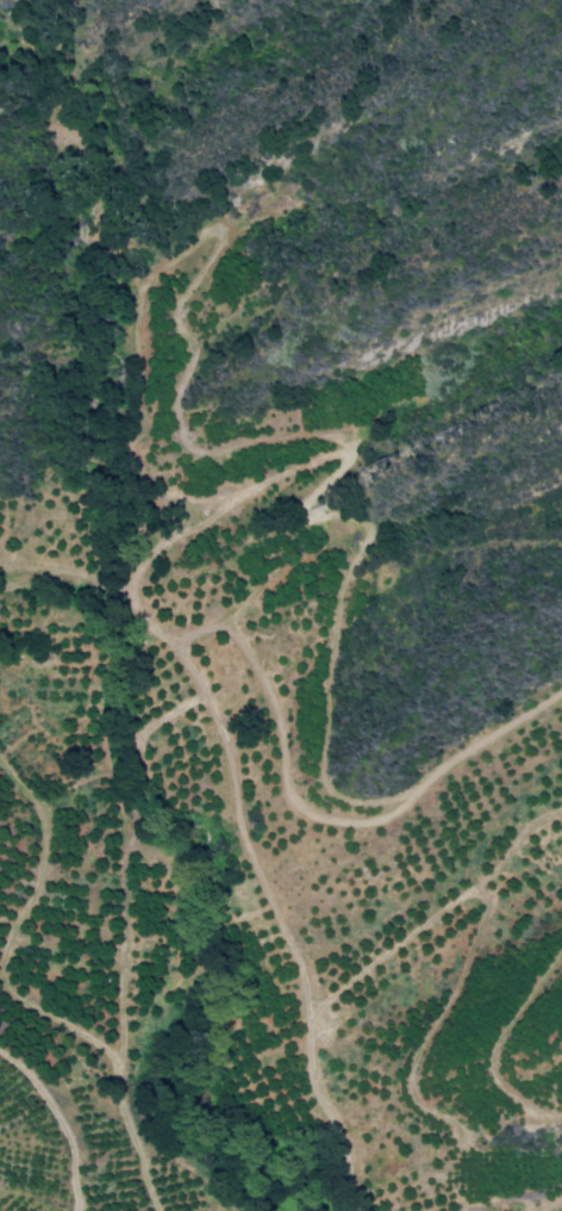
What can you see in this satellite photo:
road: (188, 656)
crop: (249, 896)

